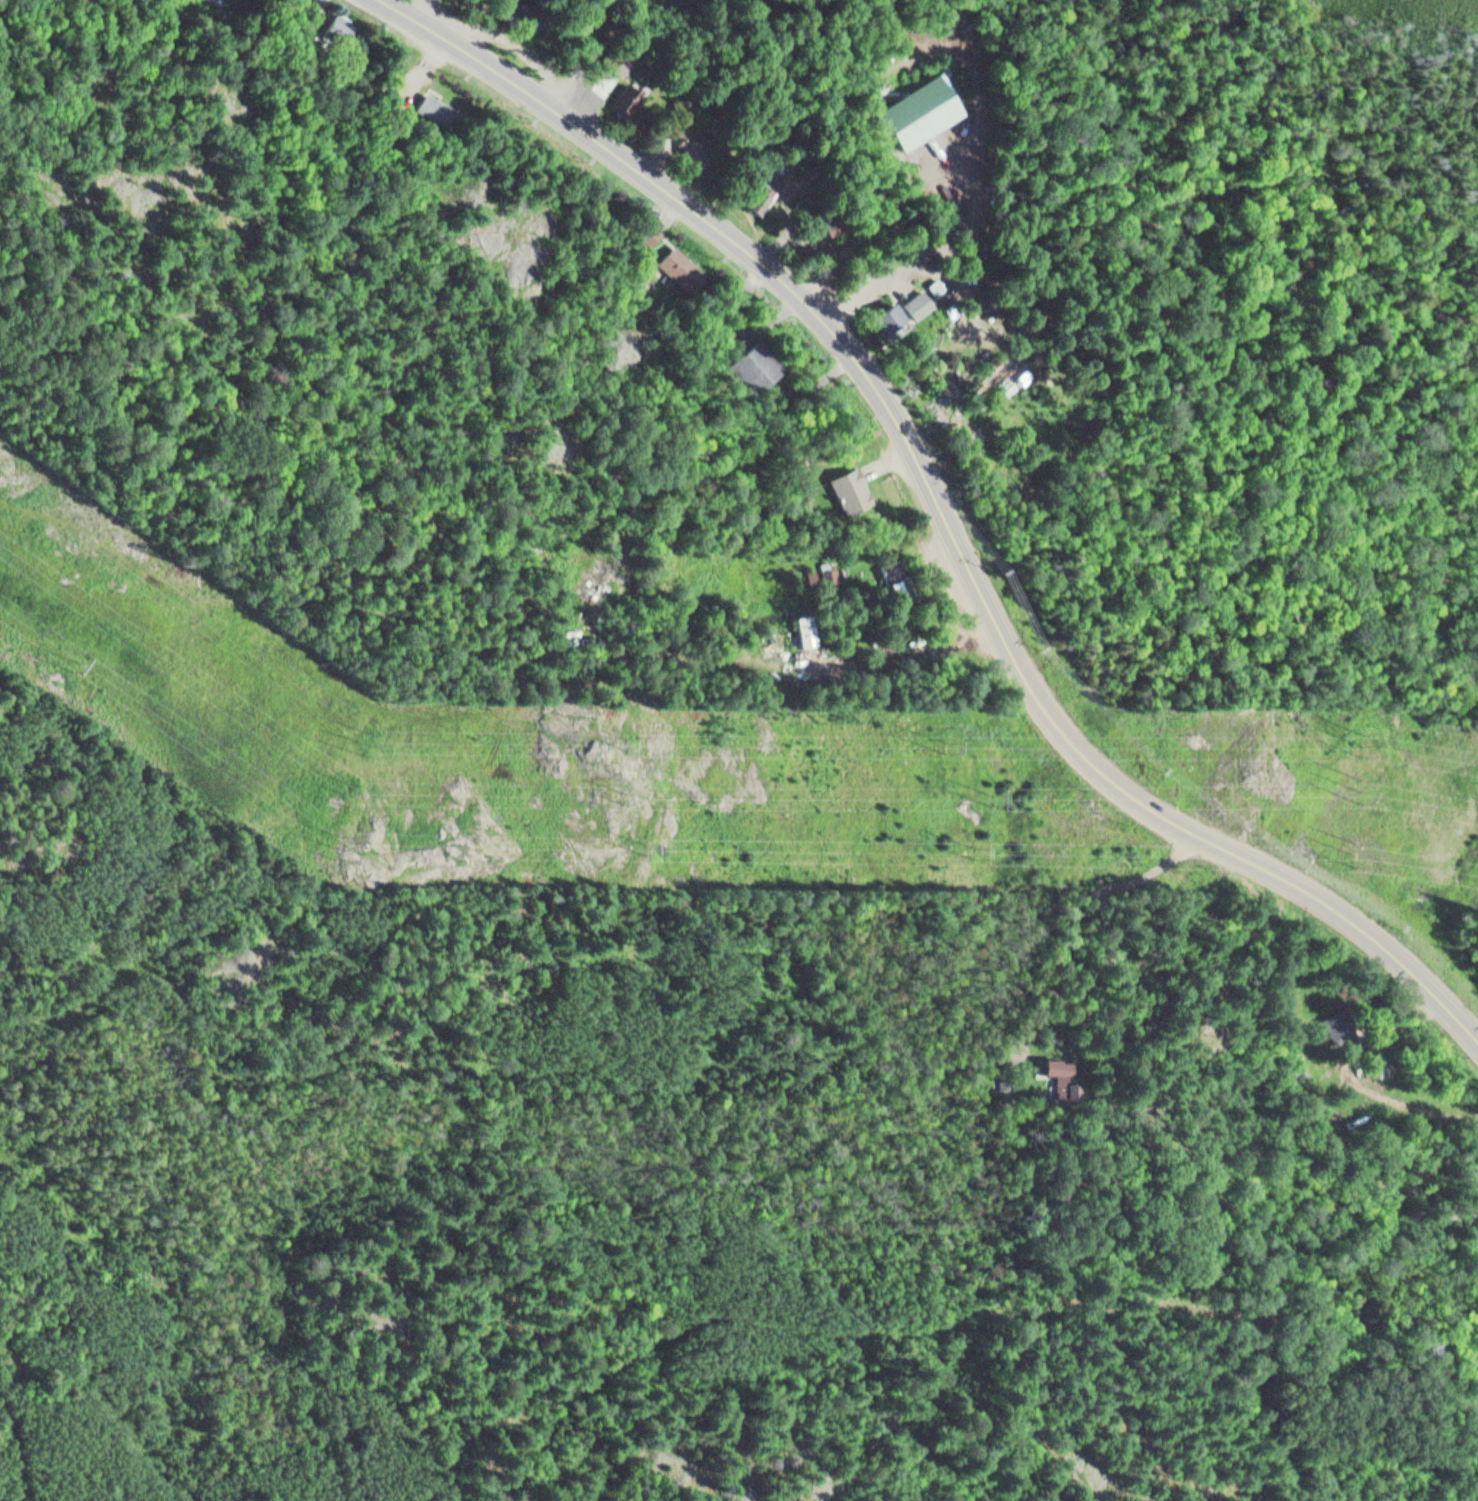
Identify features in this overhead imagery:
building: (523, 17)
building: (344, 28)
building: (629, 93)
building: (923, 106)
building: (439, 112)
building: (692, 147)
building: (762, 194)
building: (649, 226)
building: (680, 261)
building: (937, 280)
building: (919, 297)
building: (887, 315)
building: (754, 362)
building: (1009, 380)
building: (850, 485)
building: (876, 503)
road: (939, 503)
building: (894, 576)
building: (808, 625)
power tower: (83, 666)
power tower: (376, 741)
power tower: (634, 743)
power tower: (1369, 744)
power tower: (951, 745)
power tower: (1365, 792)
power tower: (359, 795)
power tower: (628, 797)
power tower: (994, 799)
power tower: (342, 846)
power tower: (652, 850)
power tower: (976, 852)
power tower: (1361, 853)
building: (1344, 1018)
building: (1378, 1057)
building: (1063, 1070)
building: (1027, 1078)

